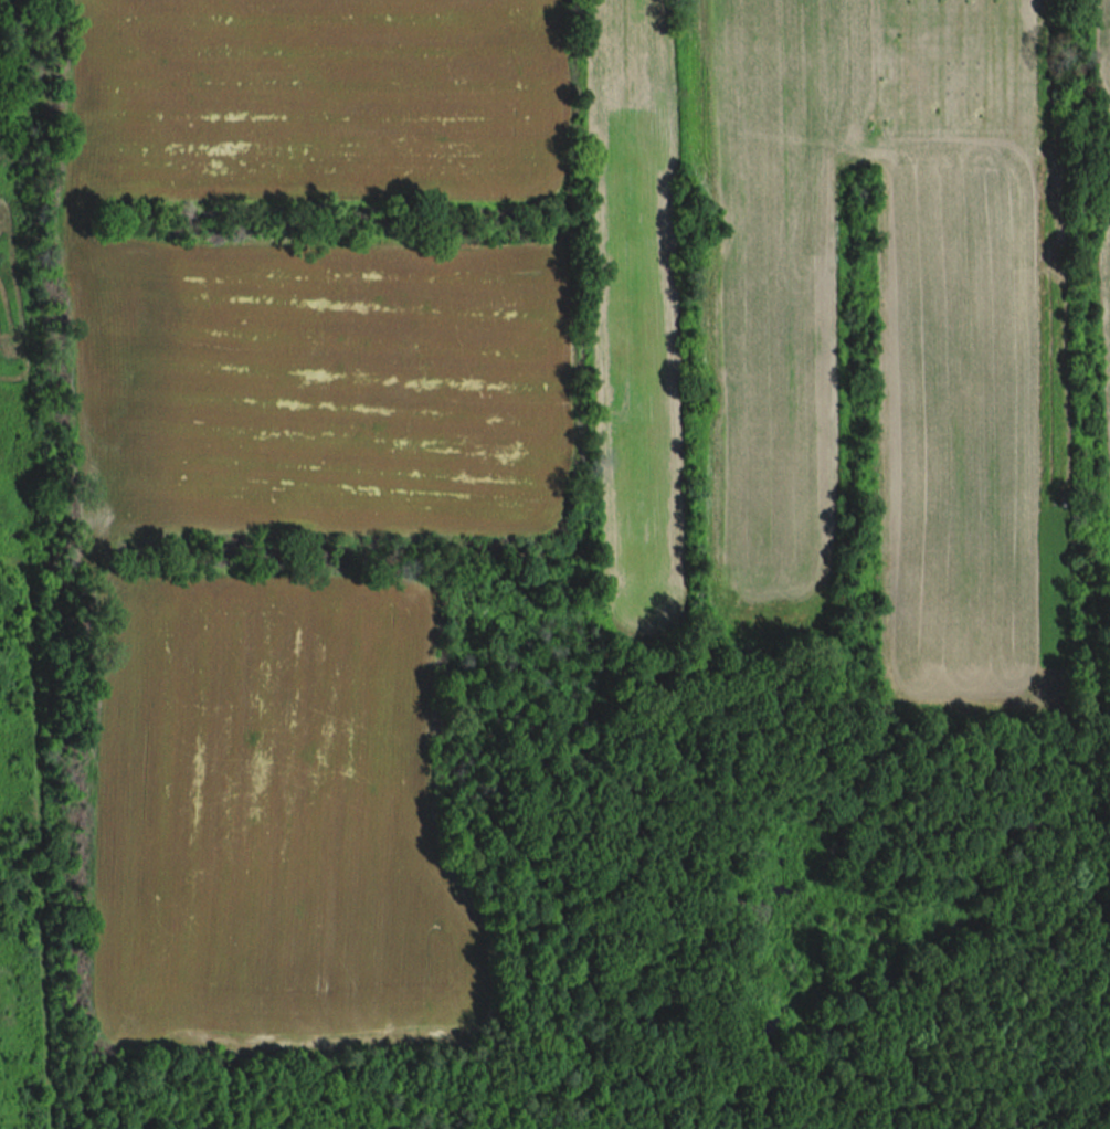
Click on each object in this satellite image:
crop: (1097, 41)
crop: (318, 276)
crop: (1106, 276)
crop: (642, 320)
crop: (890, 340)
crop: (282, 834)

